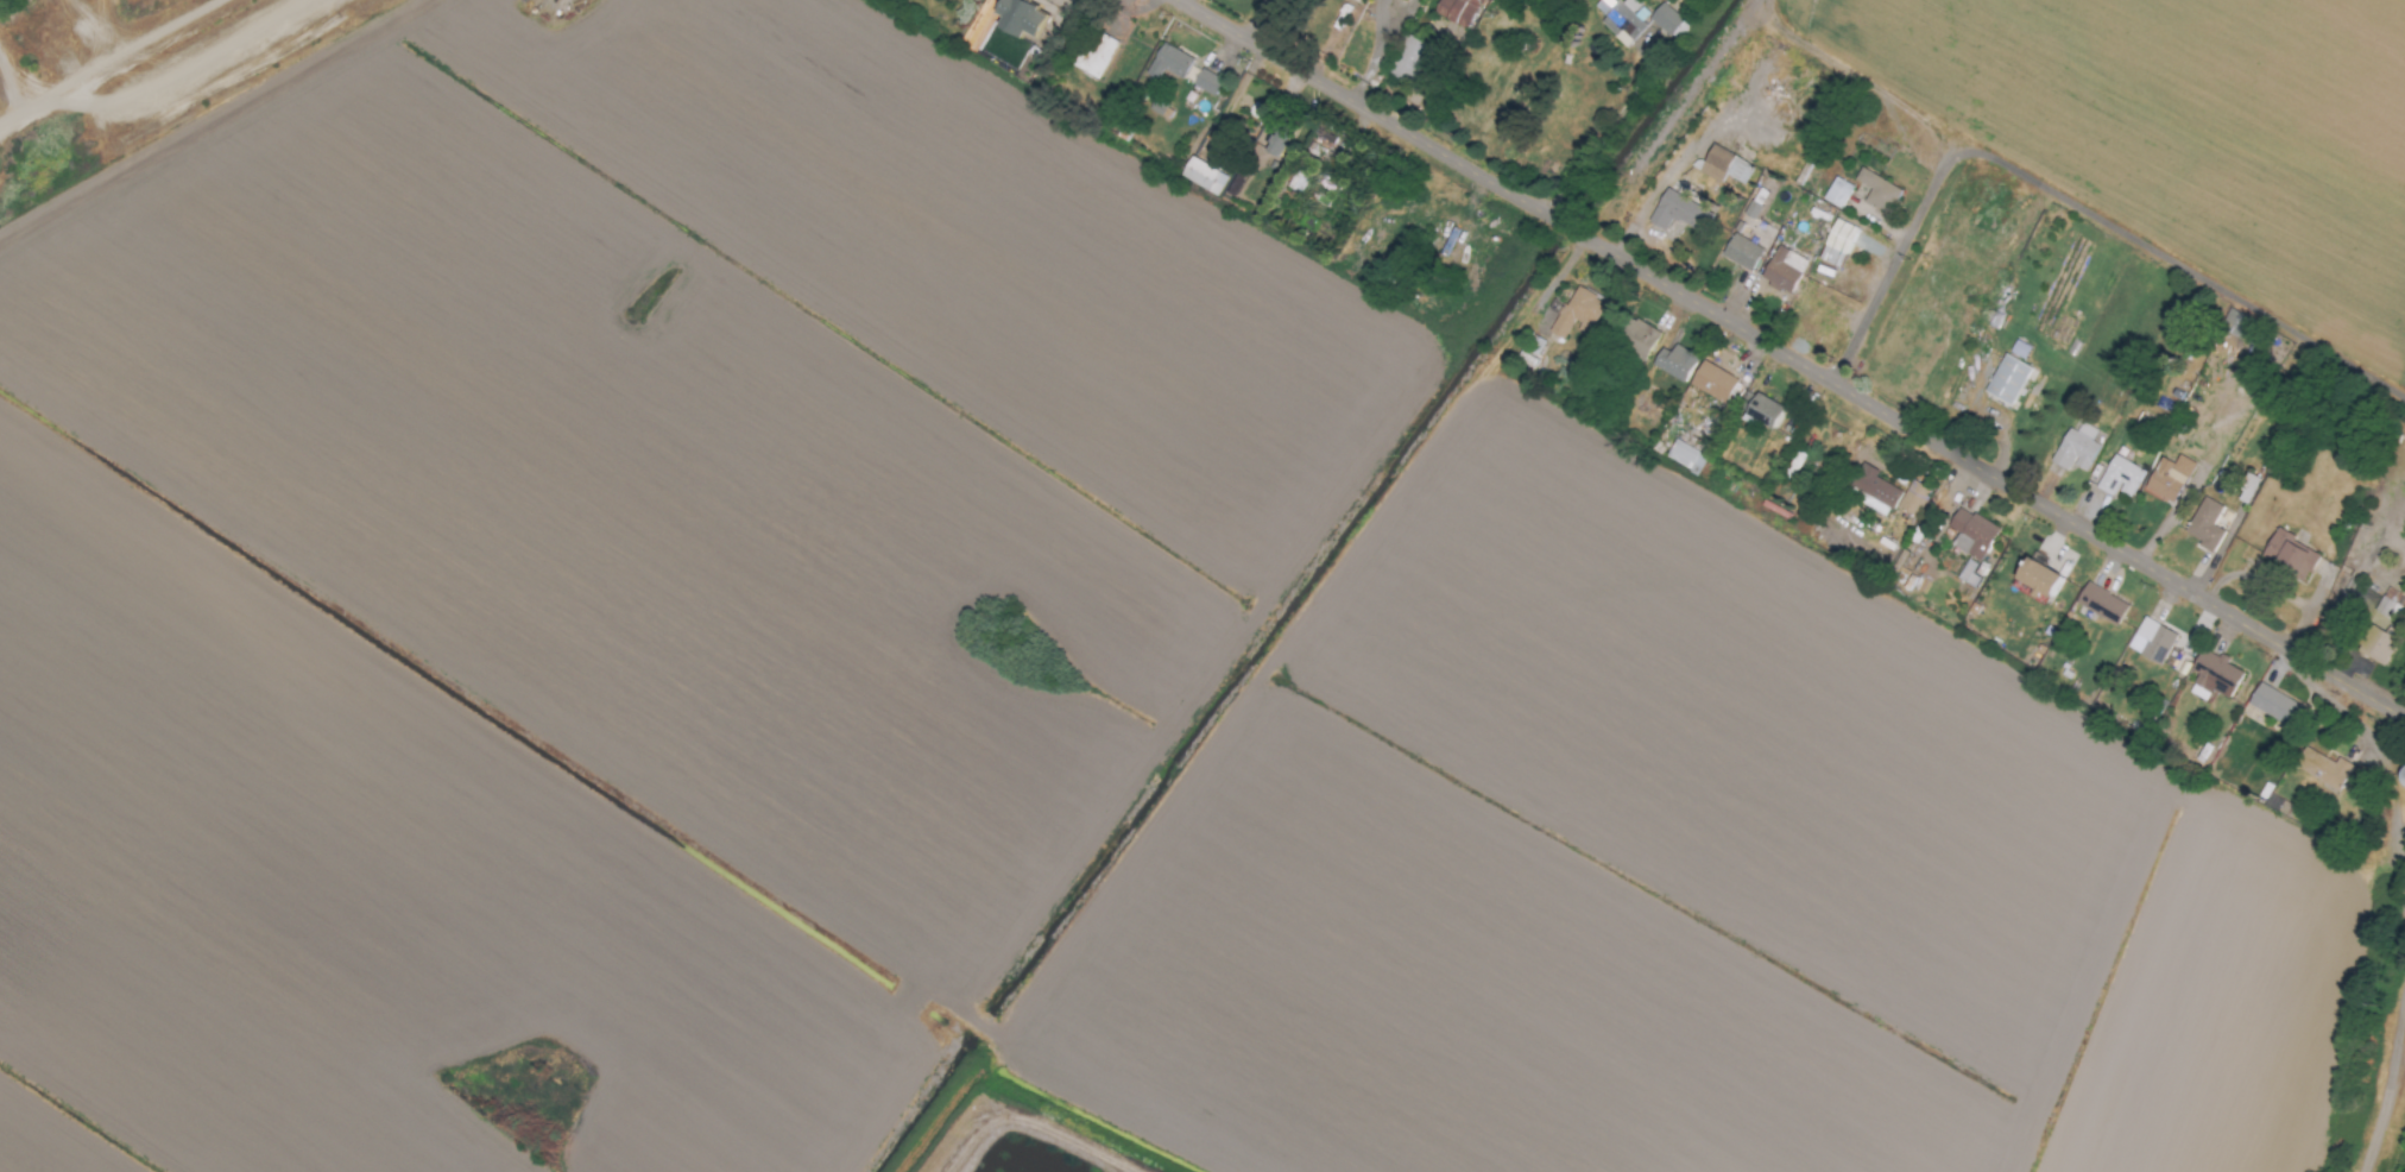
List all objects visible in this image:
building: (1361, 0)
building: (1456, 11)
building: (1018, 18)
building: (1622, 19)
building: (1668, 23)
road: (544, 43)
building: (1407, 58)
road: (114, 62)
building: (1168, 62)
building: (1206, 82)
road: (210, 121)
crop: (2178, 128)
road: (1602, 138)
building: (1274, 145)
building: (1317, 146)
road: (1691, 147)
building: (1724, 166)
building: (1202, 177)
building: (1296, 181)
building: (1877, 191)
building: (1836, 193)
road: (2069, 203)
building: (1751, 209)
building: (1680, 210)
building: (1837, 244)
road: (1659, 251)
building: (1741, 252)
building: (1782, 270)
building: (1577, 314)
building: (2233, 322)
road: (1731, 326)
building: (1636, 338)
building: (2019, 349)
building: (1674, 363)
building: (2007, 380)
building: (1712, 382)
building: (1762, 412)
building: (2077, 448)
building: (1685, 458)
building: (2119, 478)
building: (2169, 479)
building: (2247, 490)
building: (1874, 491)
building: (1912, 498)
building: (2205, 525)
building: (1970, 534)
building: (2290, 555)
building: (1968, 574)
building: (2038, 580)
building: (2101, 604)
building: (2380, 628)
building: (2154, 641)
road: (1207, 672)
crop: (990, 673)
building: (2215, 676)
road: (2347, 687)
building: (2273, 705)
road: (472, 708)
road: (2382, 755)
building: (2322, 769)
road: (2387, 1079)
road: (1025, 1129)

